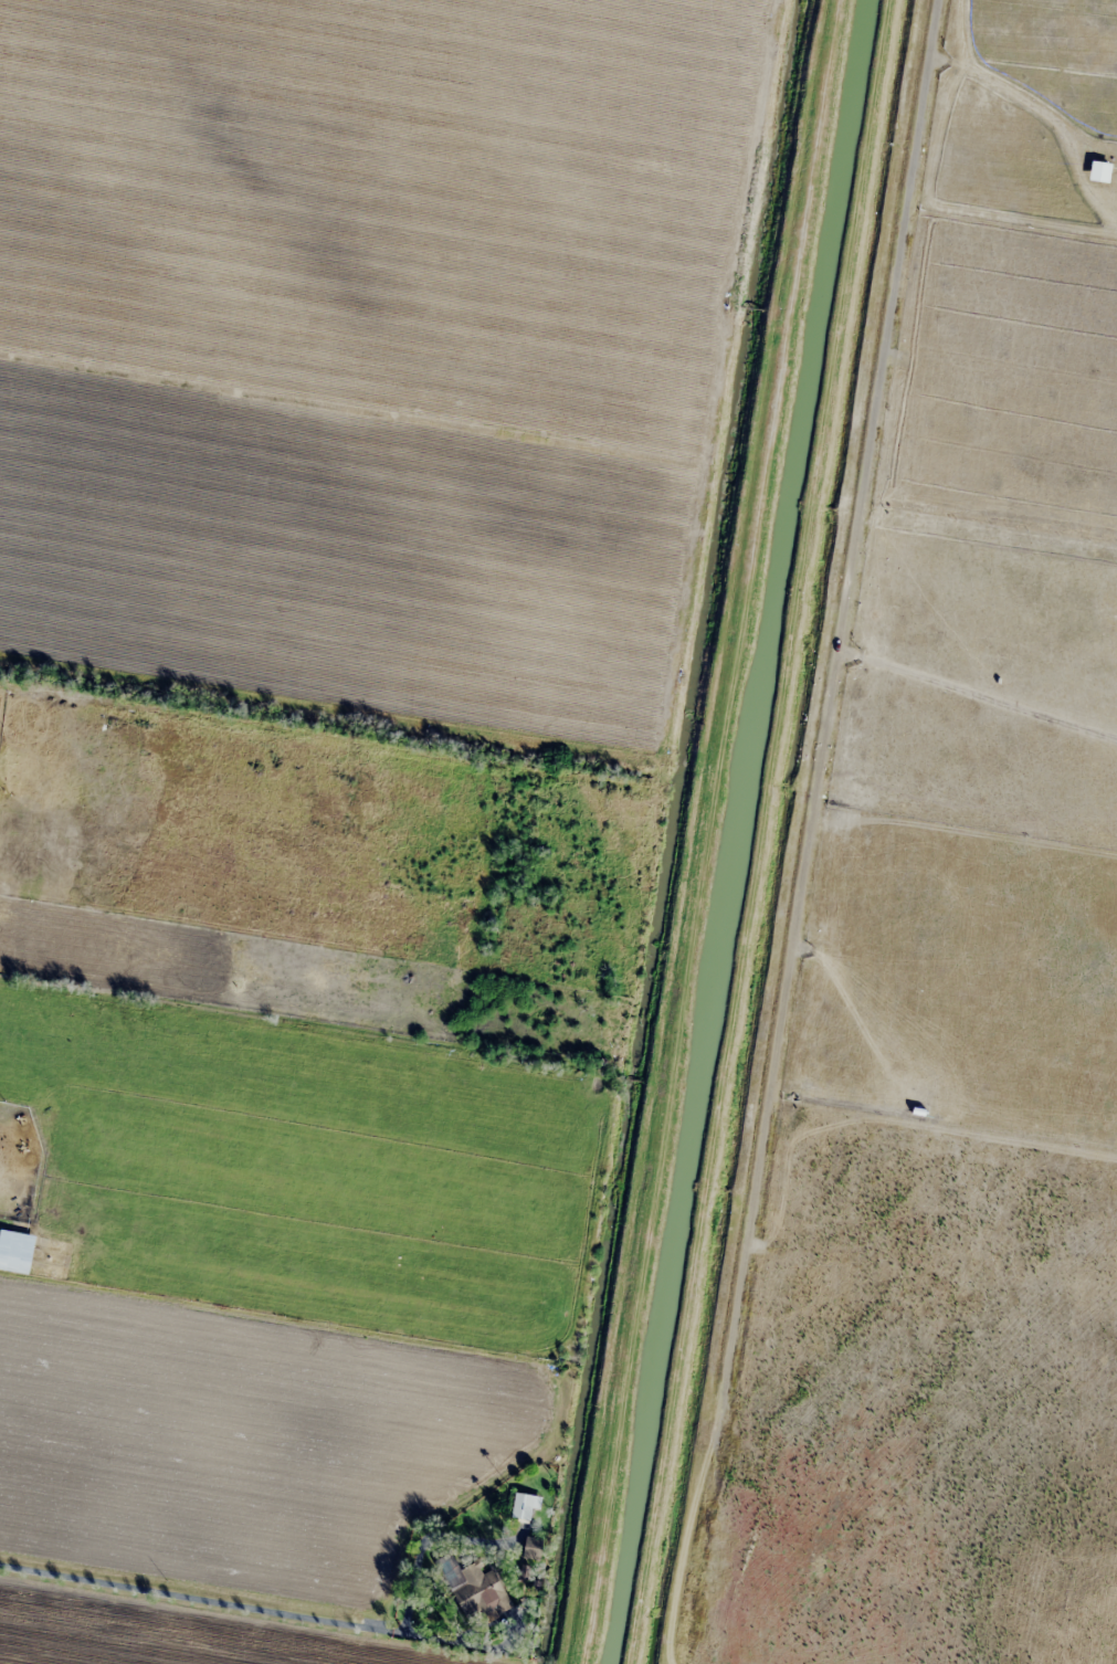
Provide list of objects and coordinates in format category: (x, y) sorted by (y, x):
building: (525, 1505)
road: (62, 1535)
building: (534, 1548)
building: (473, 1584)

